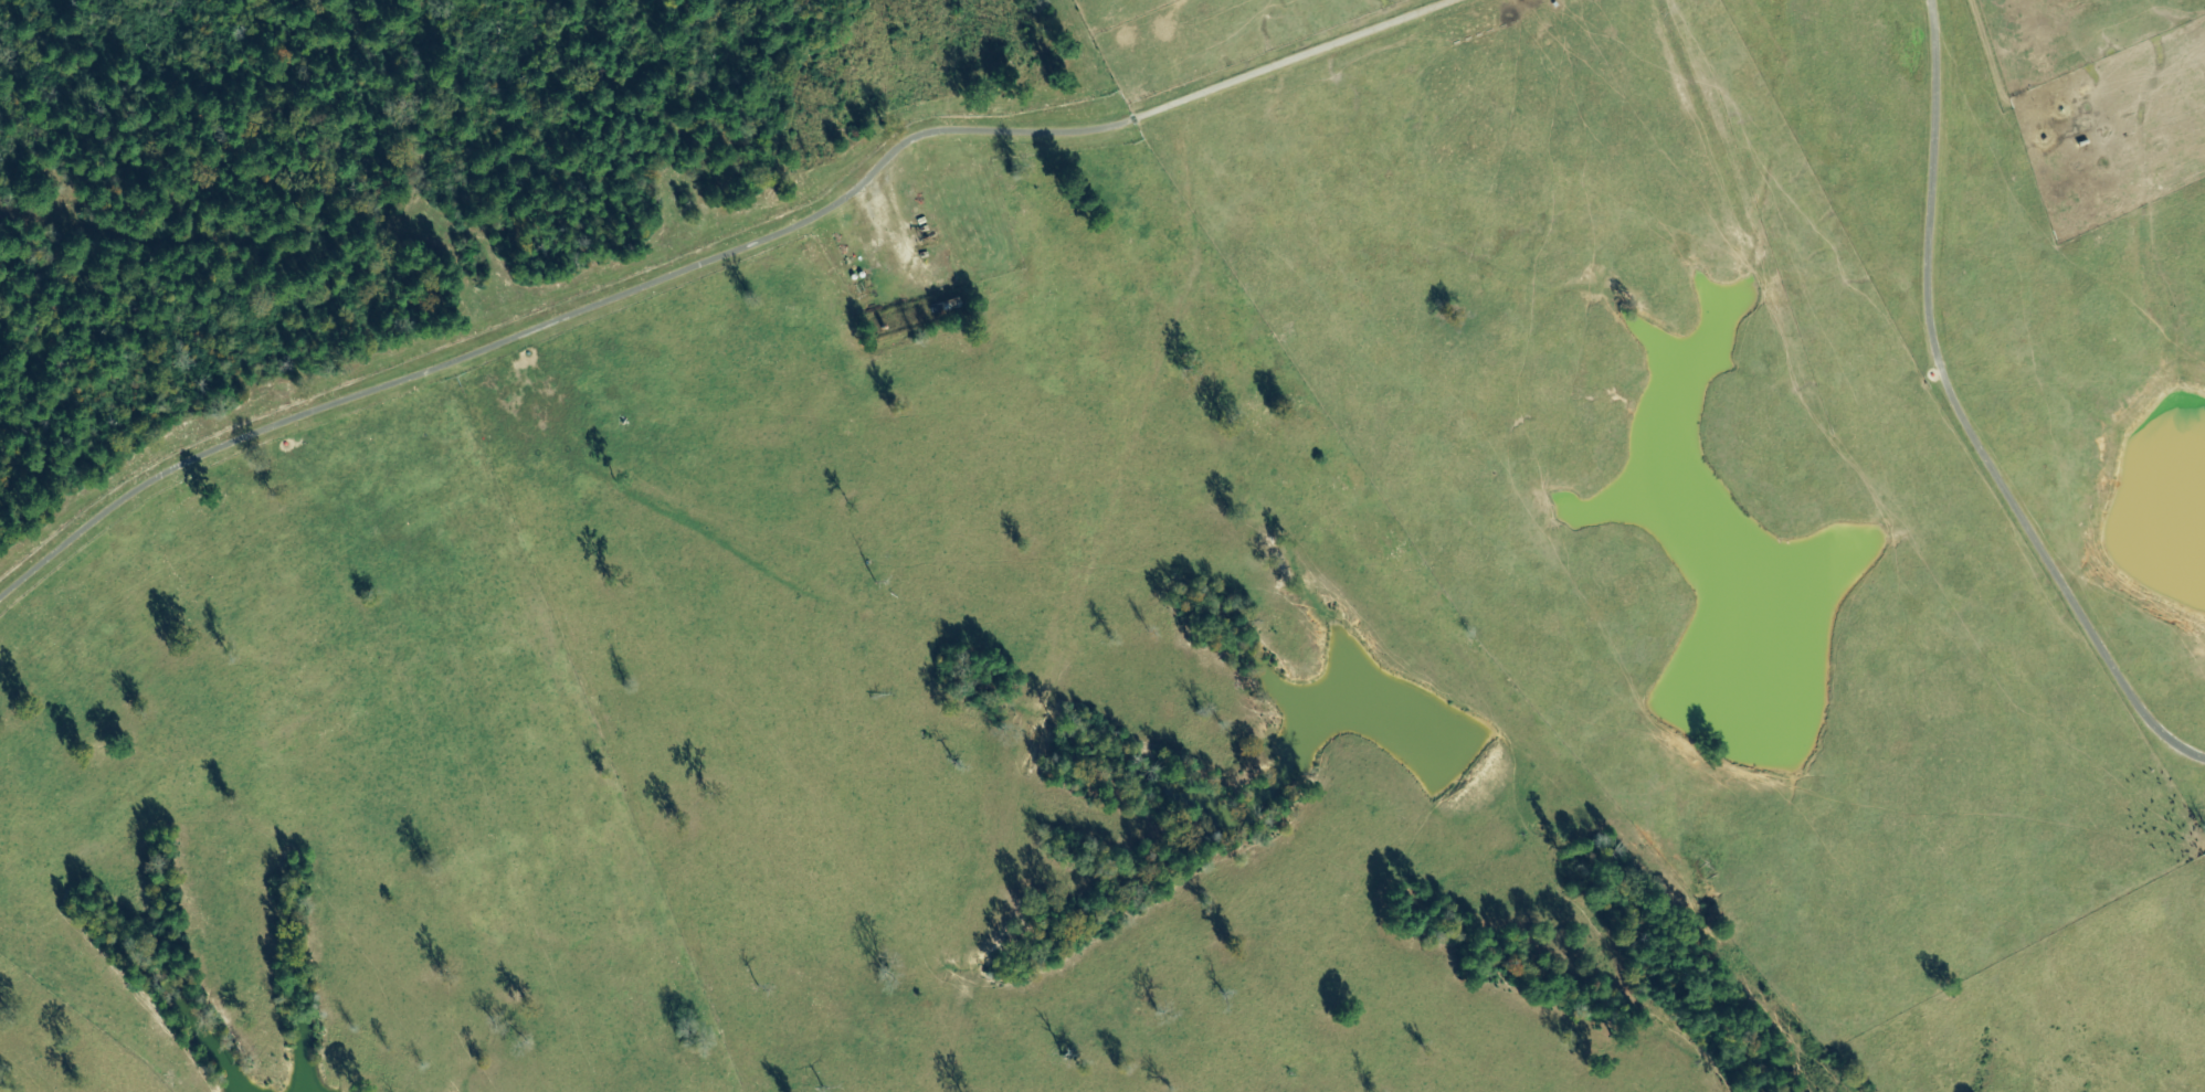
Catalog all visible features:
road: (1969, 417)

